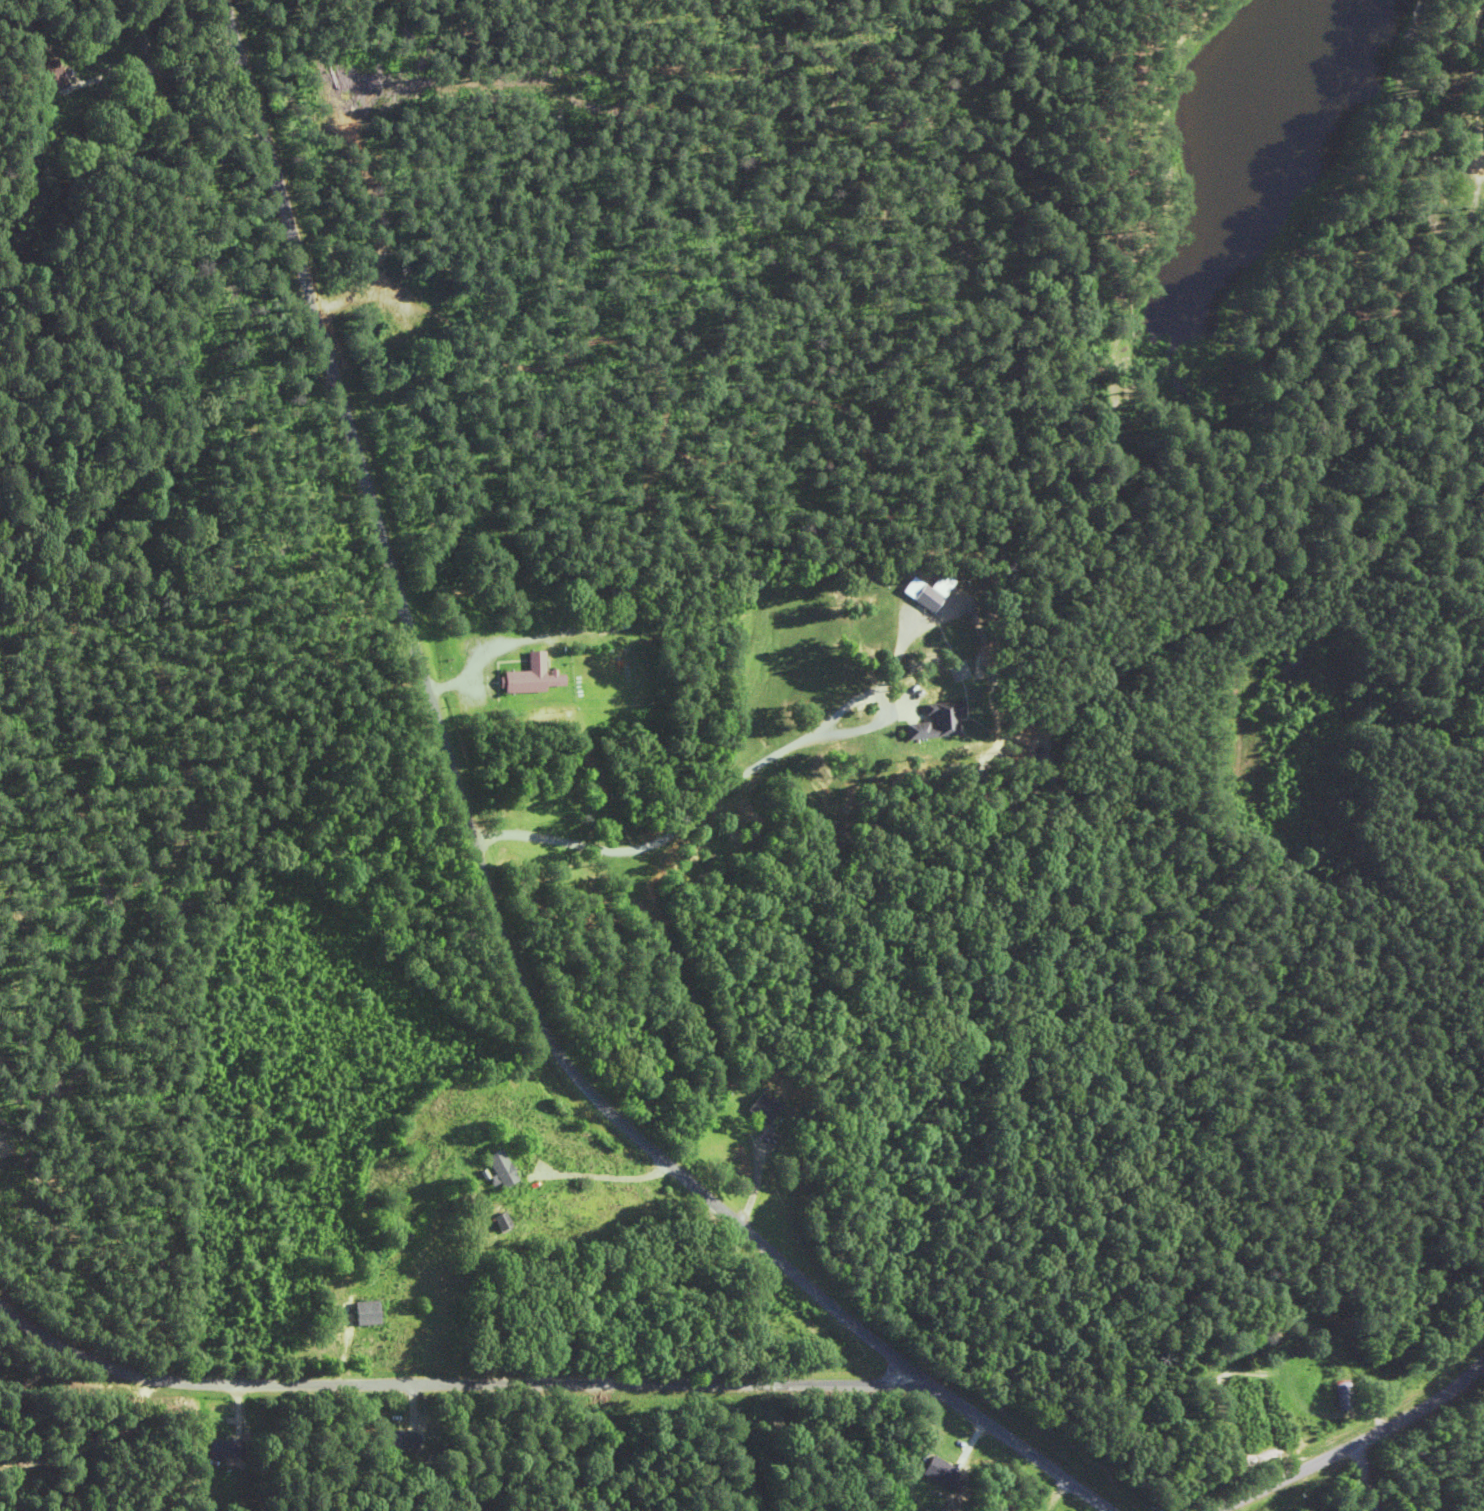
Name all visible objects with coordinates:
road: (159, 5)
building: (45, 76)
building: (1482, 193)
building: (919, 598)
building: (613, 605)
building: (528, 676)
building: (931, 722)
building: (763, 1107)
building: (490, 1167)
building: (492, 1220)
building: (358, 1312)
road: (106, 1356)
building: (1343, 1394)
road: (1352, 1430)
building: (391, 1440)
road: (1024, 1441)
building: (214, 1448)
building: (937, 1471)

